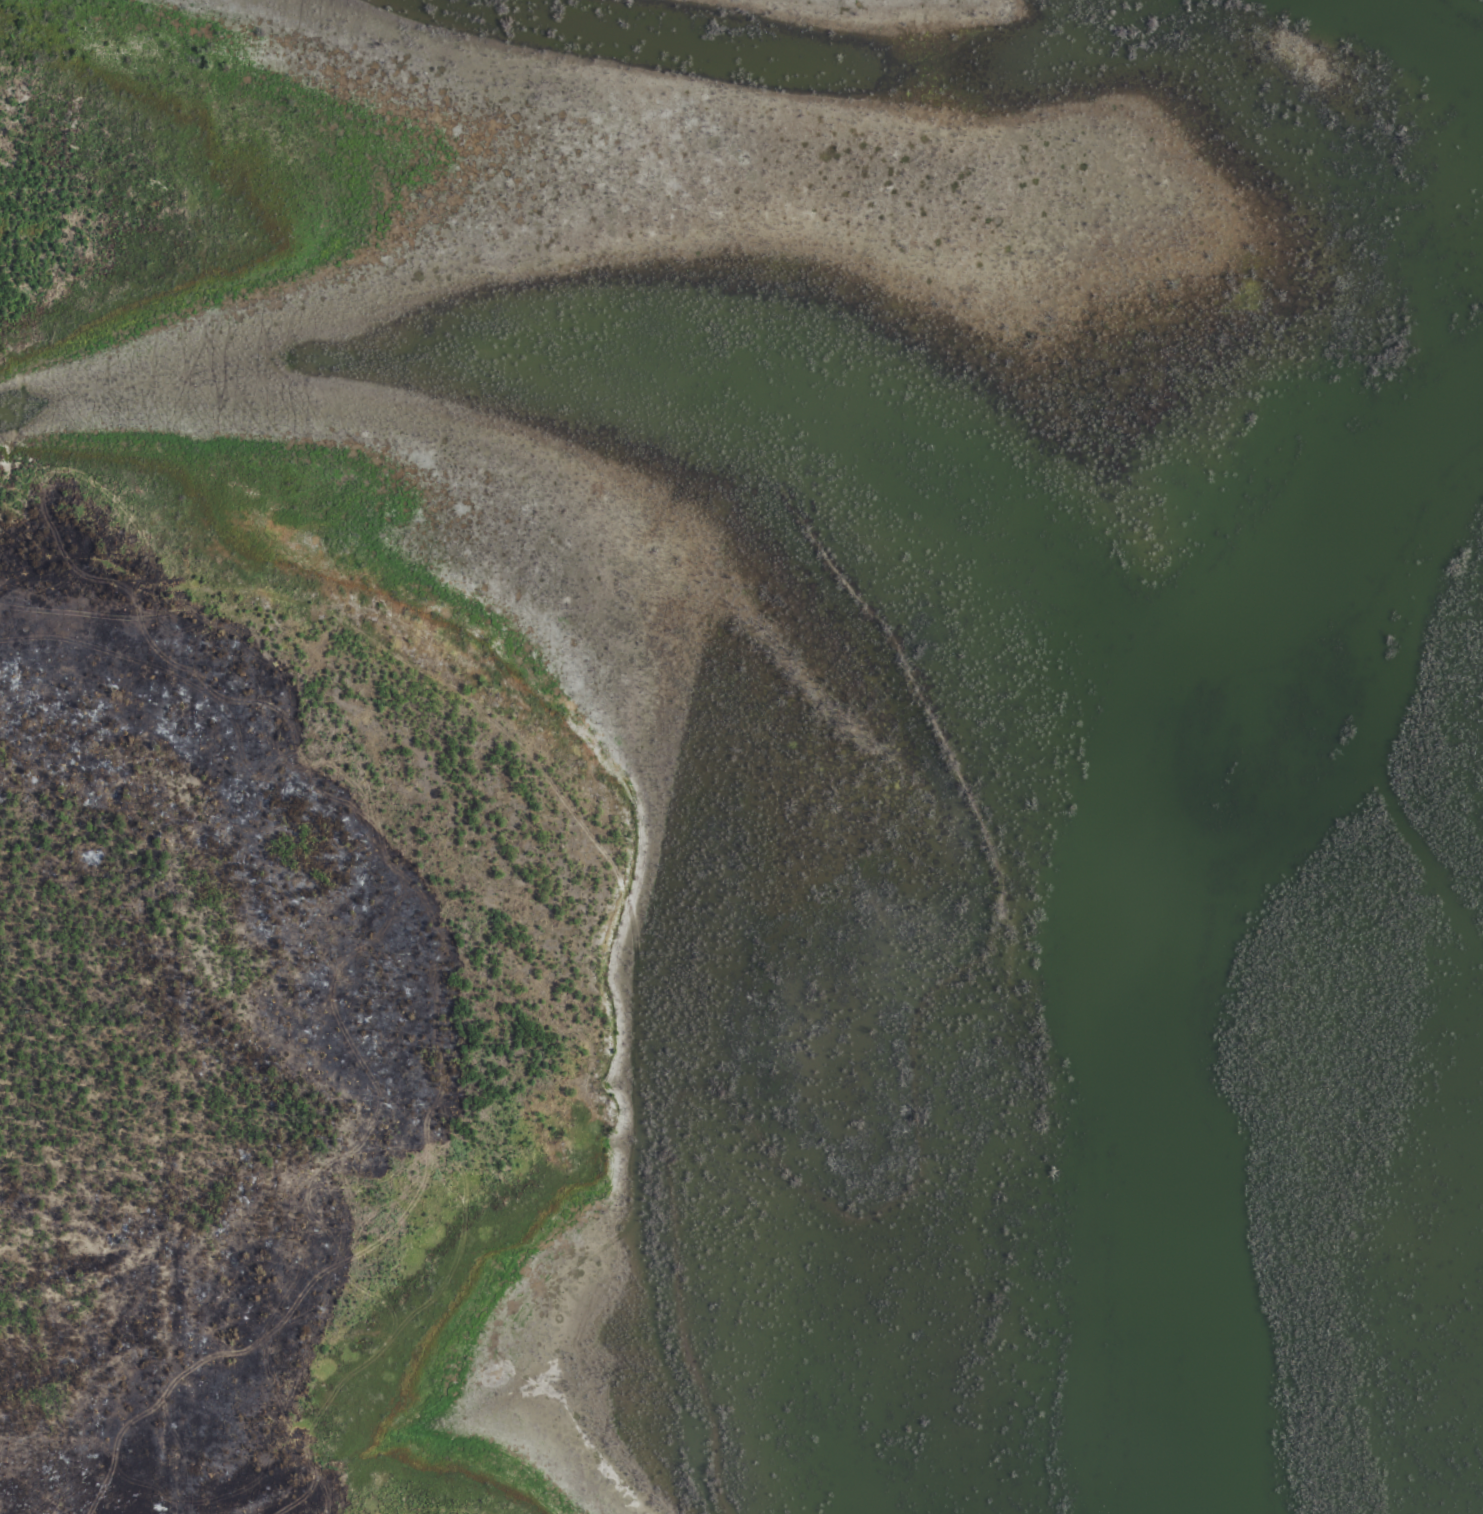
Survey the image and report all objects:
river: (1426, 32)
river: (1110, 876)

